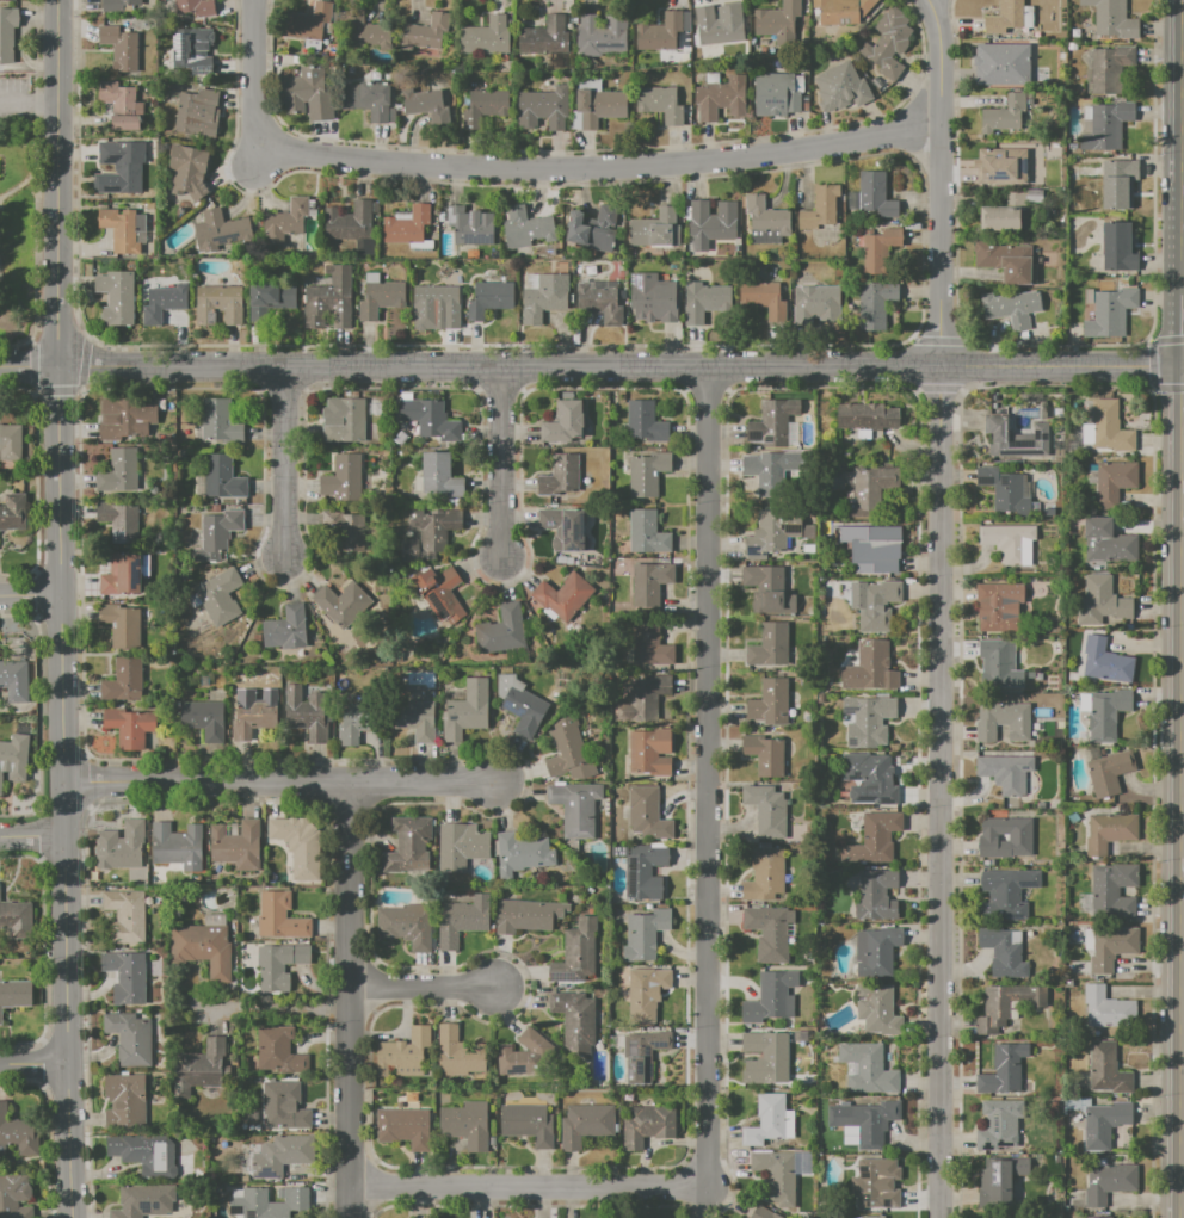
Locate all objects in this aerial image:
building: (116, 6)
building: (193, 7)
building: (841, 11)
building: (1004, 17)
building: (778, 19)
building: (1111, 19)
building: (306, 23)
building: (716, 26)
building: (359, 30)
building: (7, 31)
building: (660, 32)
building: (1074, 32)
building: (425, 33)
building: (485, 37)
building: (602, 37)
building: (547, 41)
building: (887, 44)
building: (1072, 47)
building: (118, 48)
building: (1062, 55)
building: (189, 56)
building: (1001, 66)
building: (1108, 67)
building: (841, 84)
building: (306, 94)
building: (776, 95)
building: (721, 98)
building: (420, 100)
building: (364, 103)
building: (487, 104)
building: (659, 104)
road: (29, 105)
building: (119, 105)
building: (598, 107)
building: (543, 109)
building: (196, 113)
building: (1007, 116)
building: (1087, 119)
building: (1106, 126)
building: (1072, 146)
building: (166, 147)
road: (259, 155)
building: (1003, 160)
building: (123, 161)
building: (1049, 165)
road: (529, 167)
building: (189, 173)
building: (1049, 181)
road: (26, 183)
building: (1117, 184)
building: (1036, 186)
building: (874, 196)
building: (1032, 196)
building: (820, 208)
building: (1001, 214)
building: (284, 221)
building: (349, 221)
building: (764, 221)
building: (709, 223)
building: (406, 224)
building: (223, 225)
building: (469, 225)
building: (526, 227)
building: (652, 228)
building: (119, 229)
building: (592, 229)
building: (362, 246)
building: (1117, 248)
building: (877, 255)
building: (1006, 261)
road: (1183, 274)
building: (193, 277)
building: (372, 277)
building: (455, 277)
building: (801, 279)
building: (549, 292)
building: (524, 296)
building: (116, 297)
building: (489, 297)
building: (650, 297)
building: (761, 297)
building: (331, 298)
building: (270, 299)
building: (380, 299)
building: (598, 301)
building: (702, 301)
building: (815, 301)
building: (436, 302)
building: (161, 303)
building: (217, 304)
building: (875, 304)
building: (1011, 309)
building: (1110, 313)
road: (1183, 330)
road: (1183, 365)
traffic signals: (1183, 365)
road: (591, 366)
road: (1183, 394)
building: (160, 407)
building: (124, 416)
building: (867, 416)
building: (426, 418)
building: (344, 420)
building: (218, 421)
building: (563, 422)
building: (643, 422)
building: (772, 422)
building: (1105, 426)
building: (400, 438)
building: (1016, 439)
building: (7, 444)
road: (282, 459)
road: (499, 459)
building: (117, 471)
building: (646, 472)
building: (765, 472)
building: (438, 474)
building: (1091, 475)
building: (557, 476)
building: (222, 478)
building: (344, 478)
building: (1114, 482)
building: (1005, 487)
building: (870, 490)
building: (13, 512)
building: (119, 520)
building: (563, 527)
building: (344, 530)
building: (428, 532)
building: (646, 532)
building: (217, 533)
building: (769, 534)
building: (1007, 544)
building: (1108, 544)
building: (874, 550)
building: (121, 574)
building: (648, 582)
building: (437, 591)
building: (767, 591)
building: (562, 594)
road: (29, 595)
building: (218, 595)
building: (1105, 599)
building: (341, 604)
building: (877, 606)
road: (939, 607)
road: (58, 608)
building: (995, 610)
building: (117, 624)
building: (285, 629)
building: (504, 630)
building: (649, 645)
building: (767, 645)
building: (1104, 662)
building: (998, 663)
building: (870, 667)
building: (14, 680)
building: (123, 680)
building: (642, 698)
building: (769, 703)
building: (467, 711)
building: (523, 711)
building: (306, 712)
building: (1106, 712)
building: (202, 717)
building: (414, 717)
building: (252, 718)
building: (867, 721)
building: (1000, 722)
building: (354, 723)
building: (129, 728)
building: (567, 750)
building: (650, 752)
building: (764, 755)
building: (14, 758)
building: (1106, 771)
building: (1005, 772)
road: (705, 777)
building: (869, 778)
road: (278, 783)
building: (574, 808)
building: (766, 810)
building: (646, 814)
road: (1180, 821)
building: (1108, 833)
road: (31, 837)
building: (874, 839)
building: (1020, 839)
building: (300, 843)
building: (407, 843)
building: (235, 846)
building: (121, 847)
building: (178, 847)
building: (460, 847)
building: (520, 854)
building: (643, 873)
building: (764, 874)
building: (1112, 891)
building: (1005, 894)
building: (875, 897)
building: (526, 915)
building: (124, 916)
building: (278, 917)
building: (14, 919)
building: (461, 920)
building: (405, 926)
building: (767, 932)
building: (643, 935)
building: (1110, 947)
building: (203, 950)
building: (877, 950)
building: (575, 953)
building: (1003, 953)
building: (278, 965)
building: (125, 976)
road: (421, 987)
building: (645, 994)
building: (16, 995)
building: (767, 997)
road: (350, 1000)
building: (1005, 1007)
building: (875, 1009)
building: (1106, 1009)
road: (275, 1012)
building: (574, 1021)
building: (130, 1038)
building: (277, 1052)
building: (457, 1053)
building: (402, 1055)
building: (522, 1056)
building: (643, 1058)
building: (765, 1058)
road: (32, 1064)
building: (201, 1065)
building: (867, 1069)
building: (1003, 1069)
building: (1106, 1069)
building: (123, 1099)
building: (283, 1107)
building: (766, 1120)
building: (400, 1124)
building: (528, 1124)
building: (871, 1124)
building: (1103, 1124)
building: (465, 1125)
building: (585, 1125)
building: (998, 1125)
building: (646, 1127)
building: (18, 1133)
building: (146, 1155)
building: (278, 1156)
building: (777, 1174)
building: (1004, 1179)
building: (1109, 1182)
building: (875, 1183)
road: (528, 1187)
building: (12, 1193)
building: (142, 1200)
building: (267, 1202)
building: (760, 1212)
building: (872, 1217)
building: (1098, 1217)

